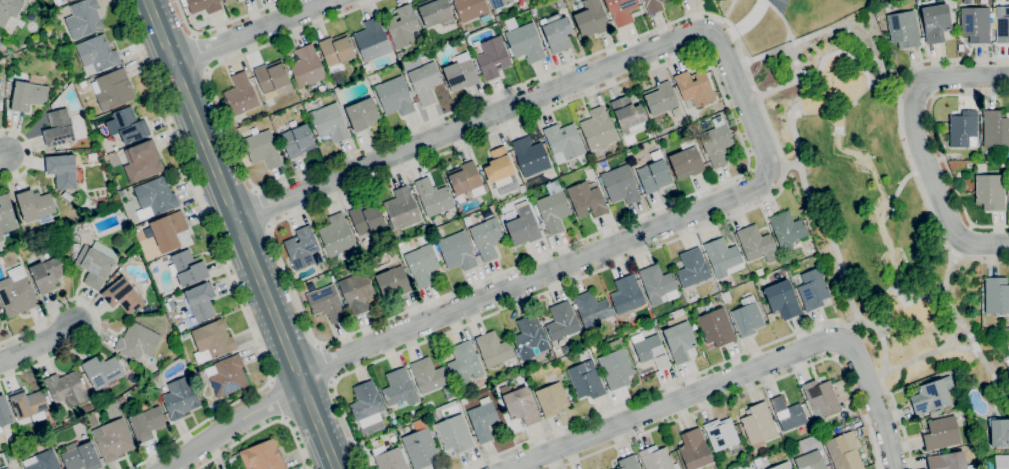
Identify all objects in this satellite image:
building: (65, 0)
building: (68, 0)
park: (784, 0)
building: (228, 1)
building: (500, 3)
building: (559, 4)
building: (203, 5)
building: (653, 5)
building: (470, 9)
road: (727, 9)
building: (434, 11)
building: (621, 11)
building: (11, 14)
road: (700, 14)
building: (84, 18)
road: (781, 18)
building: (591, 19)
road: (749, 20)
building: (935, 22)
road: (221, 24)
building: (975, 24)
building: (402, 26)
building: (1003, 26)
building: (903, 28)
road: (250, 31)
road: (822, 31)
building: (556, 32)
road: (194, 35)
building: (372, 40)
building: (525, 43)
road: (716, 44)
road: (700, 49)
building: (336, 51)
road: (199, 53)
building: (399, 54)
building: (97, 55)
building: (492, 58)
building: (426, 59)
road: (824, 60)
building: (307, 66)
road: (207, 70)
building: (460, 74)
building: (271, 76)
building: (425, 82)
building: (82, 83)
building: (1, 85)
building: (694, 88)
building: (112, 89)
building: (241, 94)
building: (1, 95)
building: (28, 95)
road: (917, 95)
building: (394, 96)
road: (901, 96)
road: (934, 96)
building: (660, 98)
road: (744, 101)
building: (296, 108)
building: (363, 114)
building: (628, 114)
building: (328, 122)
building: (58, 125)
building: (130, 125)
building: (598, 129)
building: (963, 129)
building: (996, 131)
building: (297, 140)
building: (564, 141)
building: (716, 142)
road: (905, 142)
building: (93, 143)
road: (919, 144)
road: (939, 145)
building: (263, 149)
building: (628, 152)
road: (29, 153)
road: (2, 154)
building: (530, 156)
building: (687, 160)
building: (142, 161)
building: (1003, 163)
road: (768, 166)
road: (747, 167)
building: (62, 170)
road: (750, 170)
building: (501, 171)
building: (654, 176)
building: (466, 179)
building: (620, 184)
building: (1008, 188)
road: (256, 190)
building: (990, 191)
building: (67, 196)
building: (154, 197)
building: (433, 197)
building: (586, 200)
park: (873, 204)
building: (34, 205)
road: (261, 208)
building: (402, 208)
building: (553, 211)
building: (6, 215)
building: (366, 218)
building: (523, 223)
road: (270, 226)
building: (167, 230)
building: (787, 230)
road: (241, 234)
building: (336, 235)
building: (487, 237)
road: (963, 237)
building: (420, 239)
building: (757, 244)
road: (833, 246)
building: (75, 247)
building: (301, 248)
building: (457, 251)
road: (954, 252)
building: (722, 257)
building: (96, 263)
building: (421, 265)
road: (225, 266)
building: (187, 268)
building: (693, 268)
building: (48, 273)
building: (393, 281)
building: (658, 284)
building: (811, 289)
building: (16, 292)
building: (356, 292)
building: (627, 294)
building: (122, 295)
building: (996, 295)
building: (782, 299)
building: (198, 301)
building: (326, 303)
building: (708, 305)
building: (172, 307)
building: (591, 310)
building: (747, 317)
road: (98, 319)
building: (562, 321)
building: (0, 324)
building: (650, 325)
building: (716, 327)
building: (530, 337)
building: (679, 339)
building: (212, 340)
building: (137, 341)
road: (38, 343)
road: (318, 345)
building: (596, 346)
building: (494, 349)
building: (650, 350)
road: (936, 350)
building: (464, 363)
road: (323, 364)
building: (616, 365)
road: (984, 368)
building: (102, 373)
road: (740, 373)
road: (877, 374)
building: (227, 375)
building: (428, 375)
building: (586, 380)
road: (332, 382)
building: (201, 388)
building: (399, 388)
building: (66, 389)
road: (749, 389)
road: (655, 390)
building: (933, 396)
building: (180, 398)
building: (821, 398)
building: (551, 399)
building: (122, 400)
building: (29, 404)
building: (520, 404)
building: (367, 408)
building: (4, 412)
building: (431, 414)
building: (787, 414)
road: (900, 419)
building: (483, 421)
building: (147, 423)
road: (234, 423)
building: (758, 424)
road: (263, 429)
building: (999, 432)
building: (455, 433)
building: (941, 433)
building: (722, 435)
building: (113, 439)
building: (37, 441)
building: (420, 448)
building: (694, 449)
building: (843, 453)
building: (262, 456)
building: (81, 457)
building: (390, 458)
building: (657, 458)
building: (231, 459)
building: (42, 461)
building: (811, 461)
building: (948, 461)
building: (997, 462)
building: (628, 463)
building: (781, 465)
building: (6, 468)

